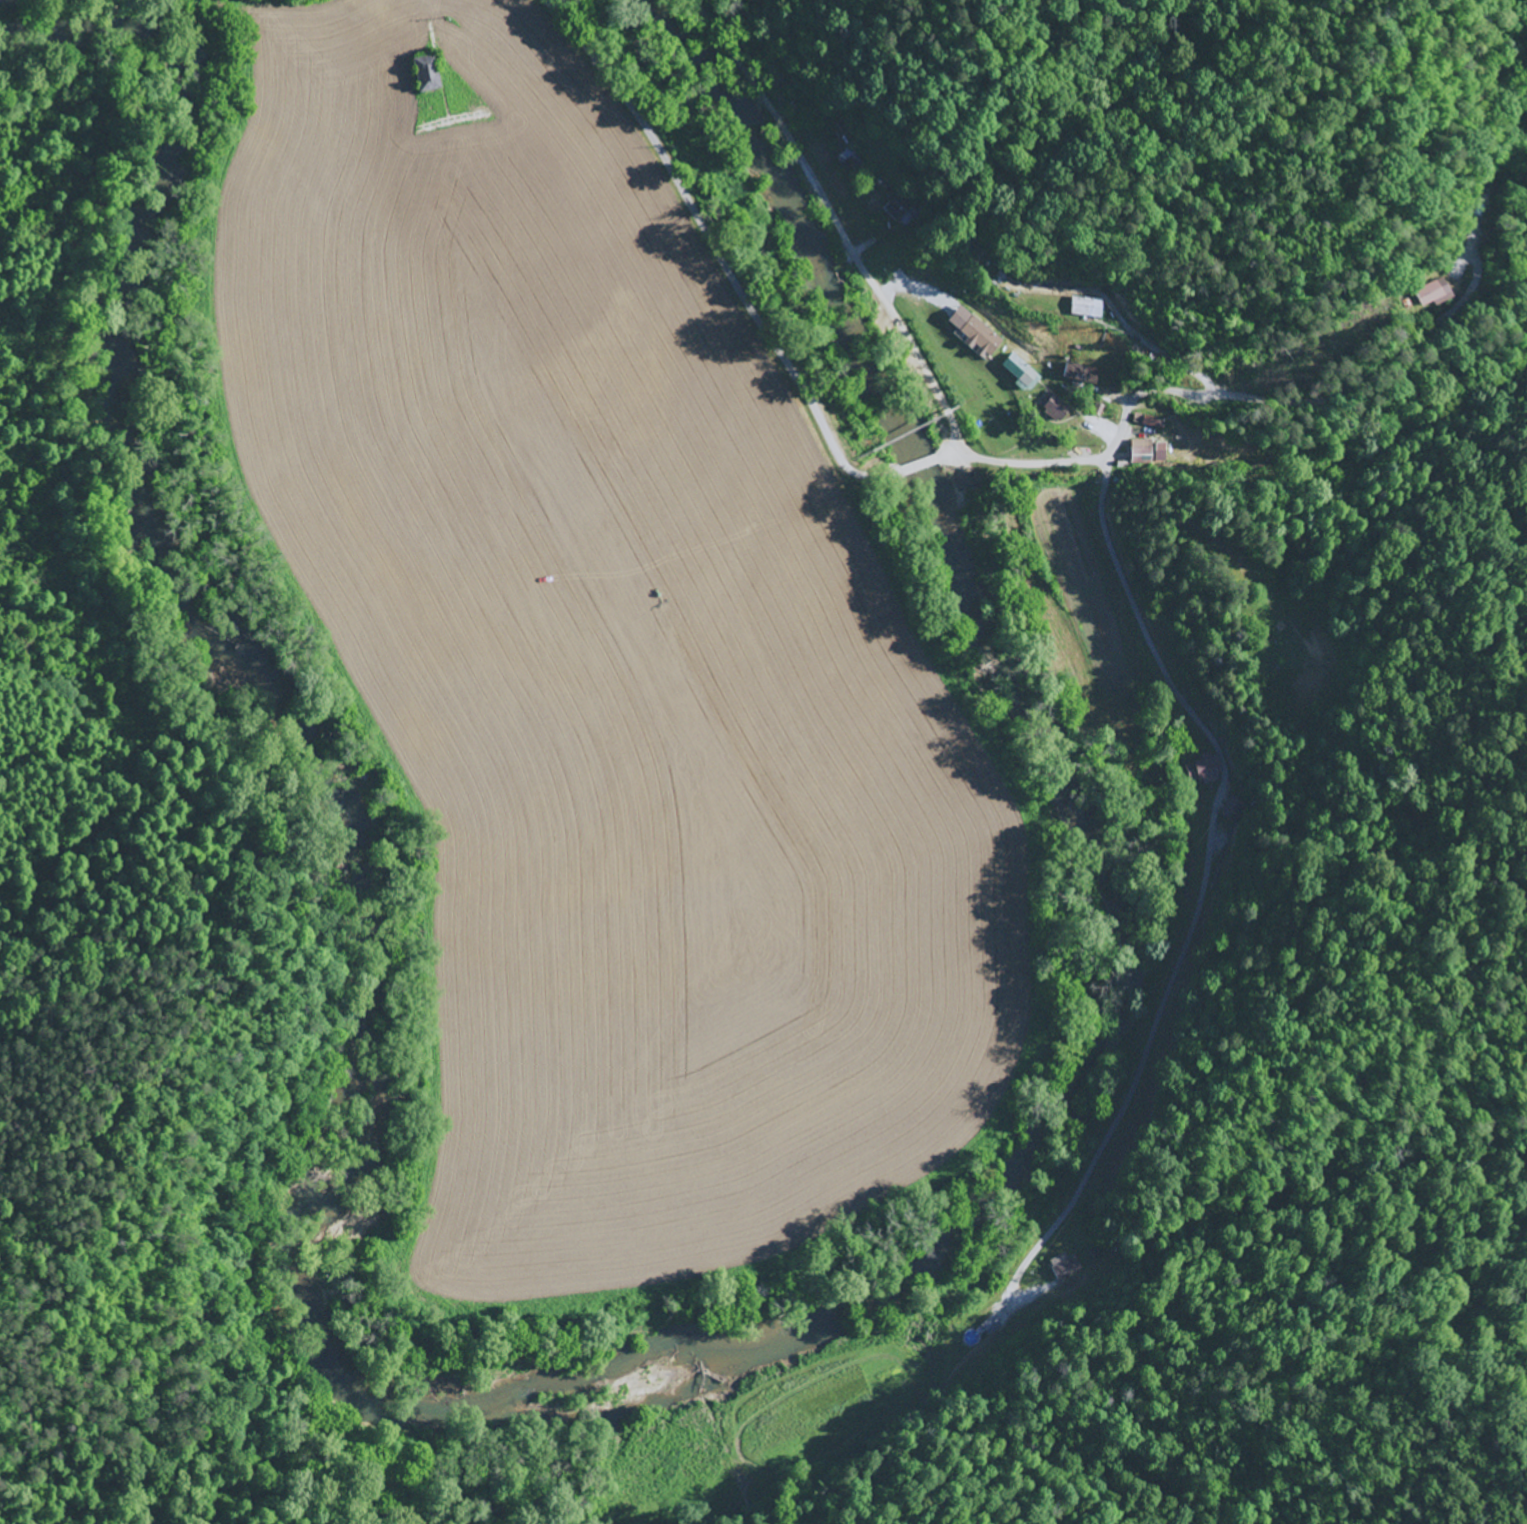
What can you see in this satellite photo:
building: (432, 74)
building: (900, 212)
building: (1437, 294)
building: (1092, 307)
building: (980, 335)
building: (1084, 374)
road: (1217, 392)
building: (1060, 410)
road: (884, 473)
road: (1177, 682)
building: (1211, 769)
building: (1234, 810)
building: (1070, 1268)

